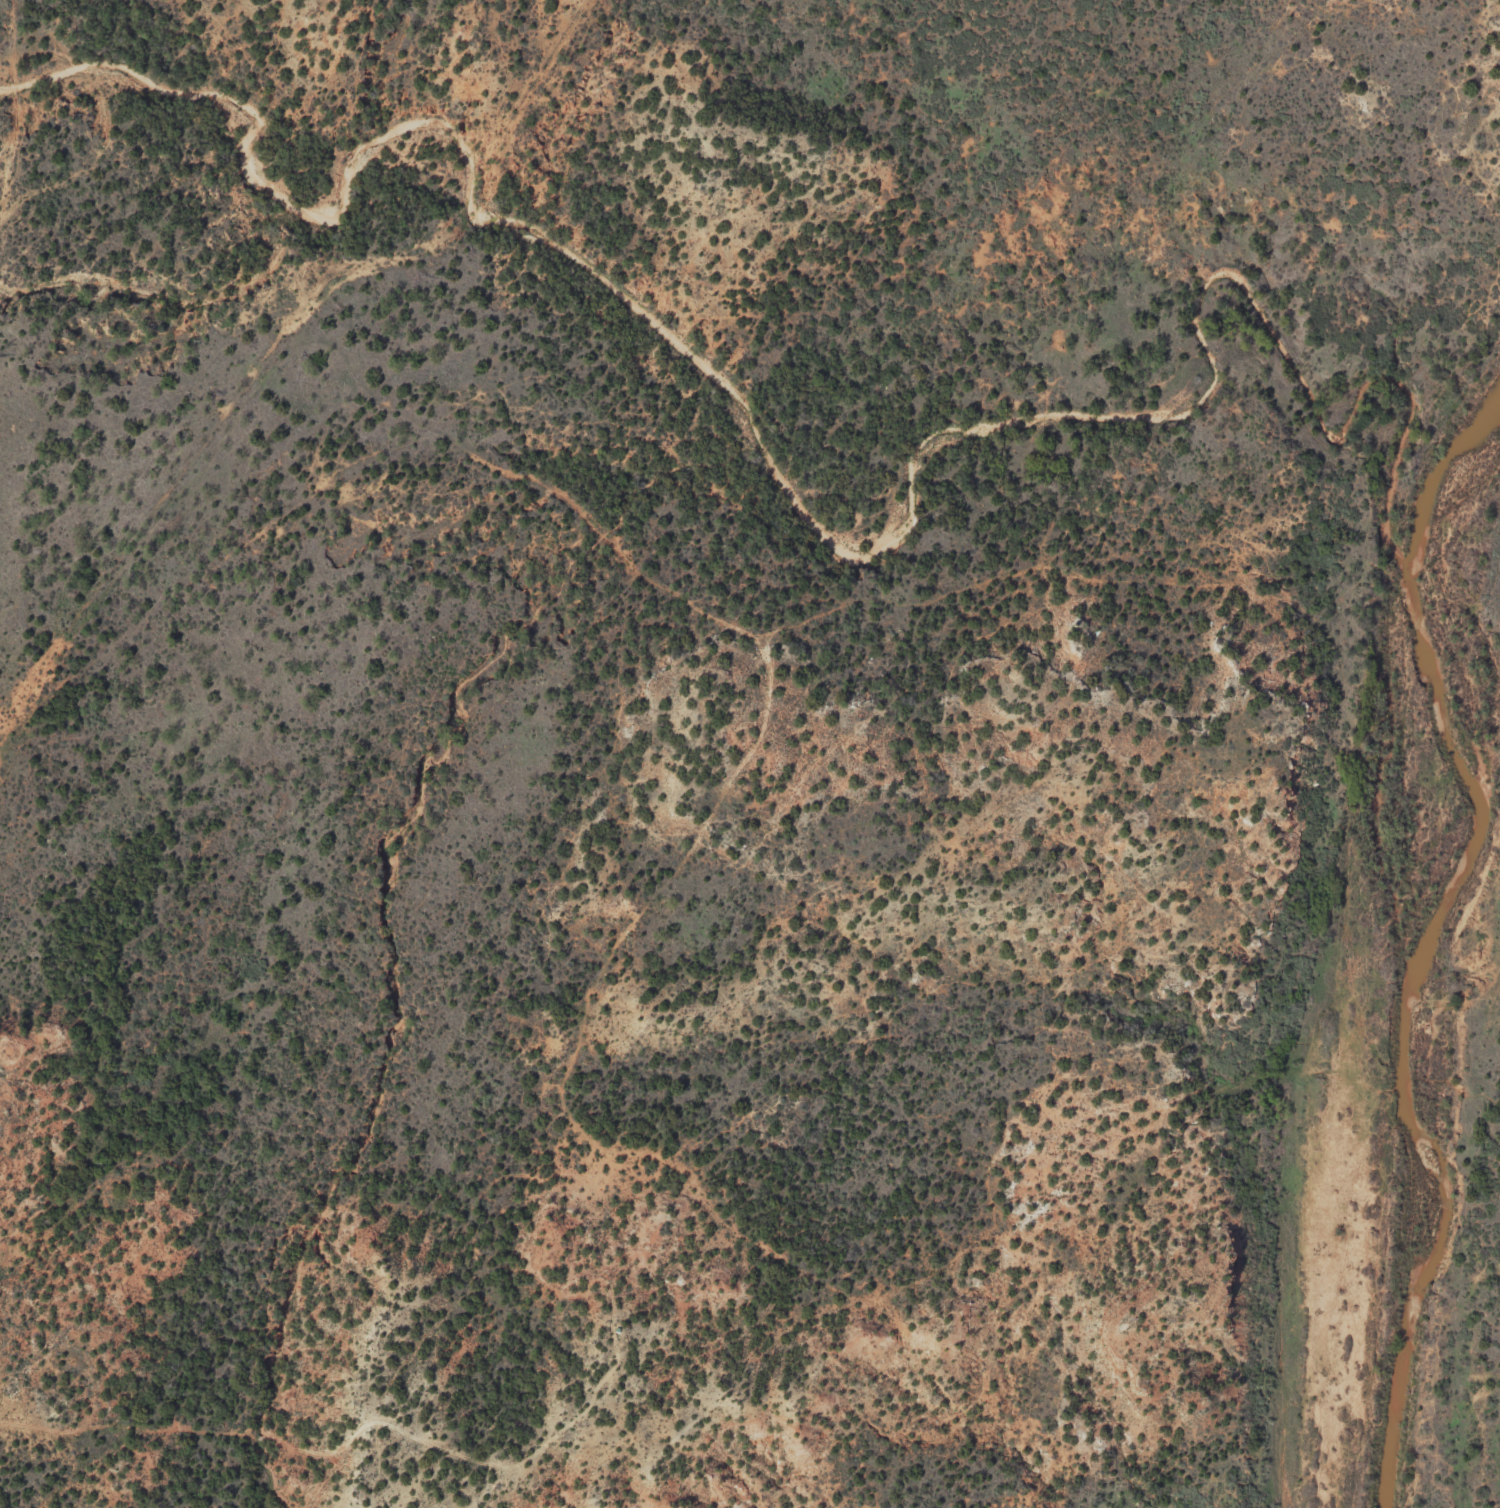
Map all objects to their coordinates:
river: (1428, 930)

